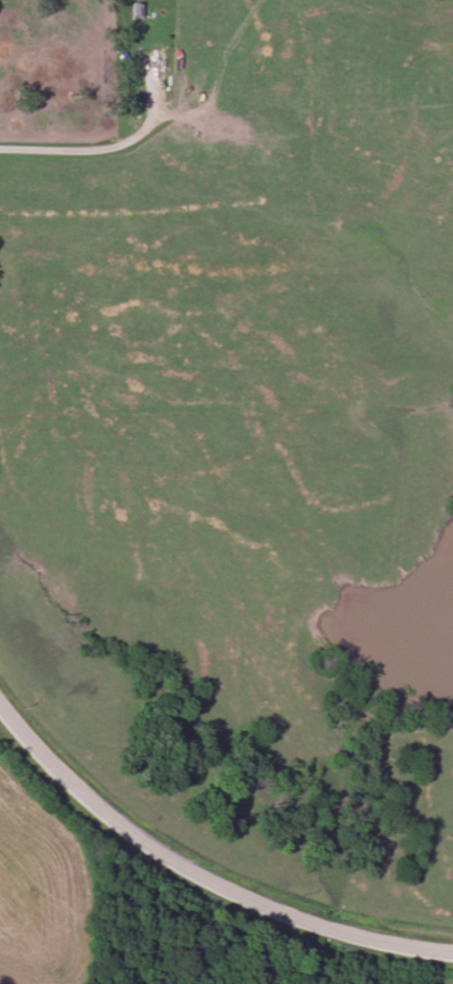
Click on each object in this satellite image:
road: (201, 881)

